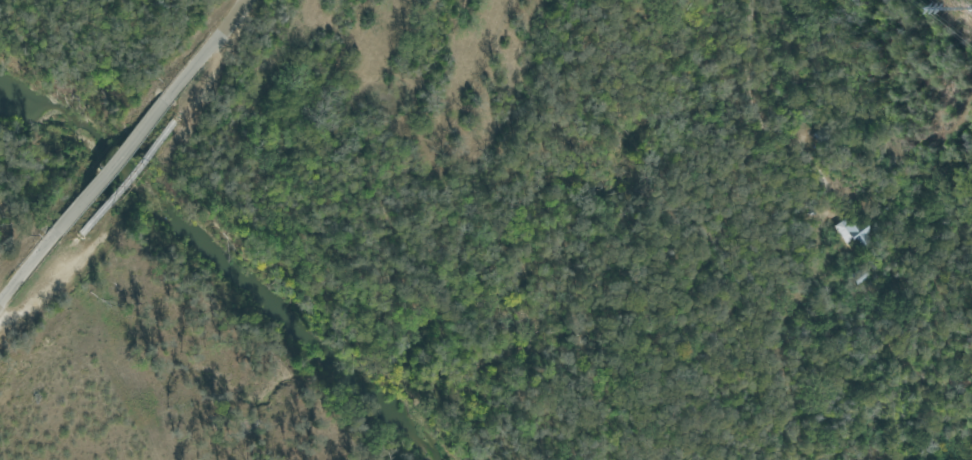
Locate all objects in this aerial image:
power tower: (961, 3)
road: (760, 115)
road: (123, 153)
building: (853, 228)
road: (518, 234)

